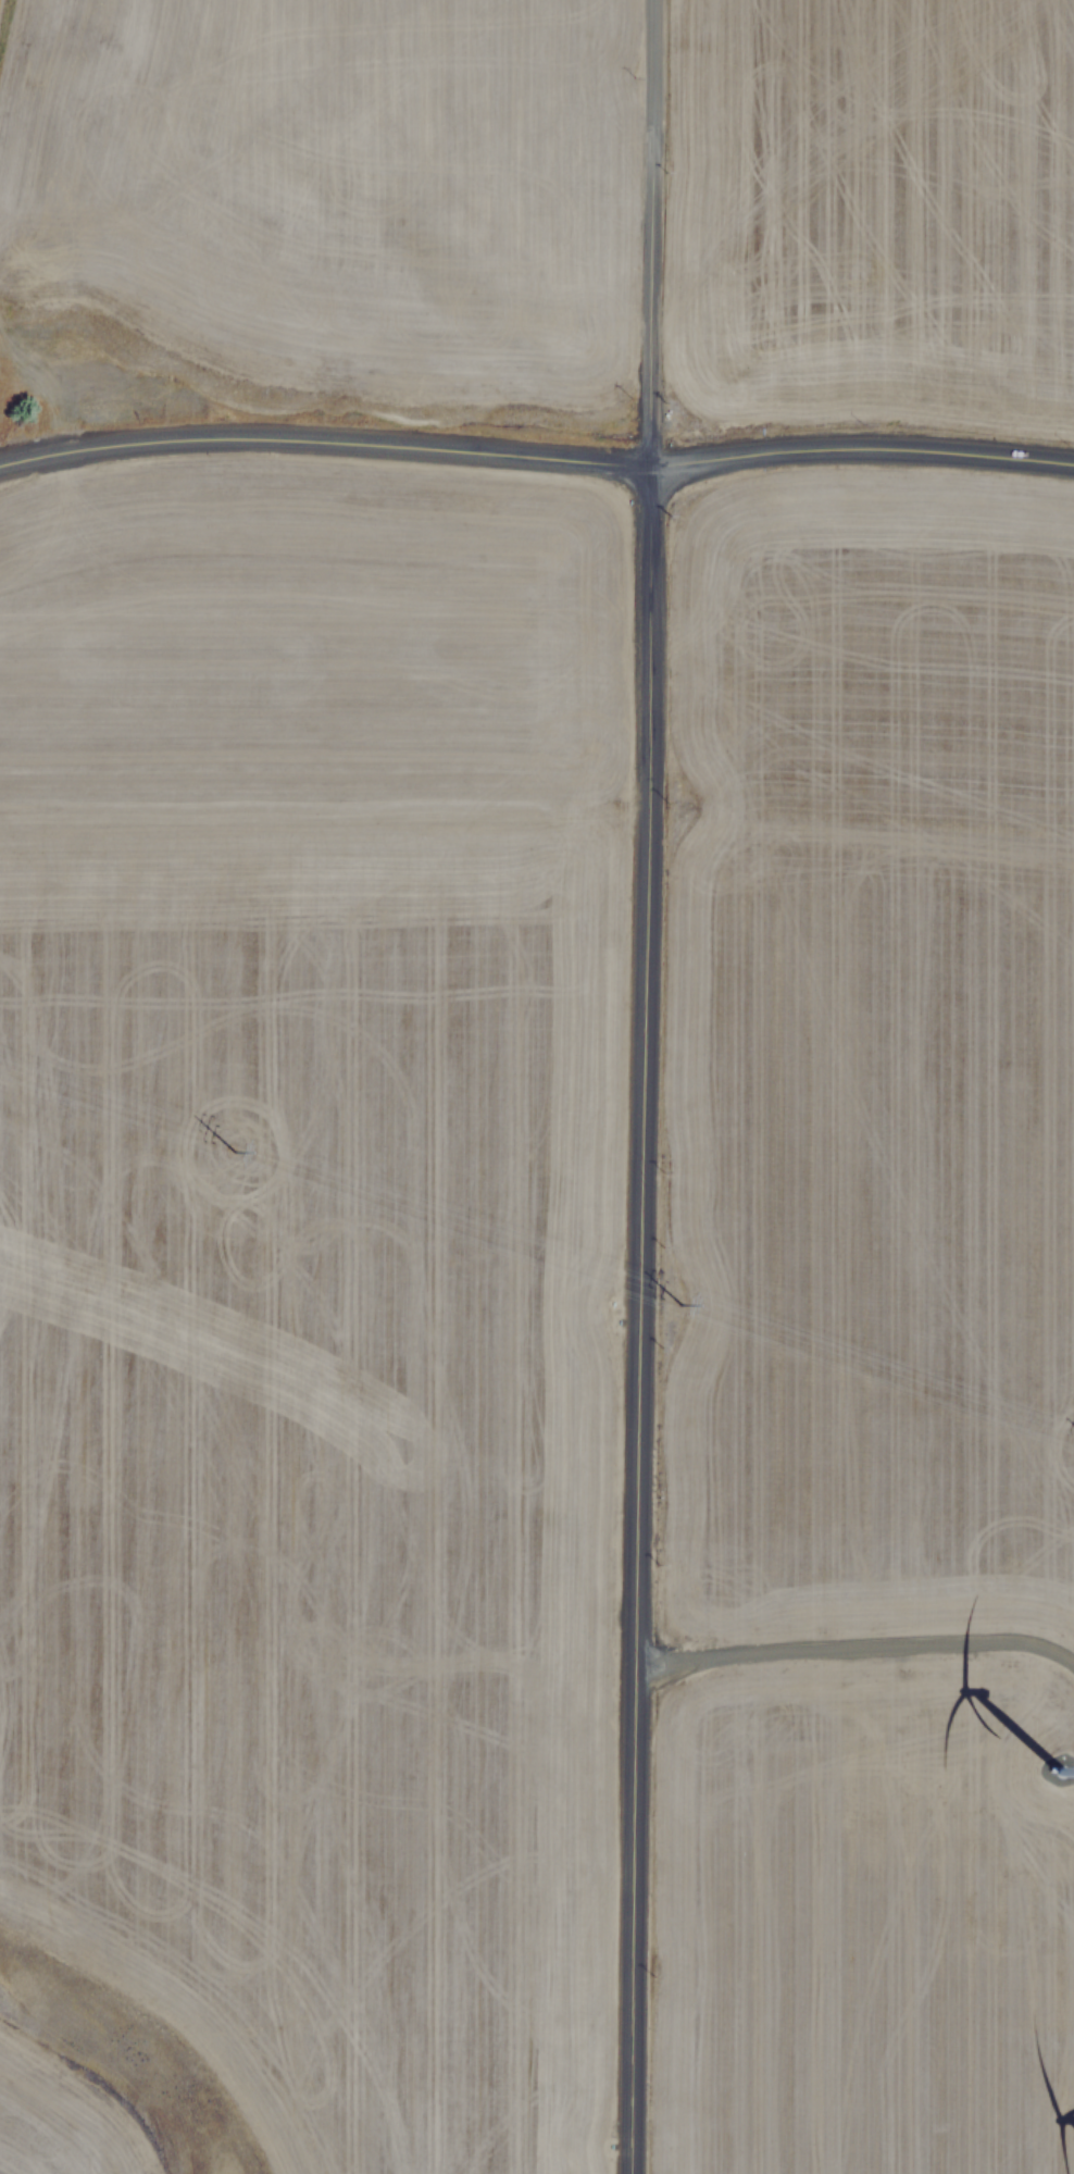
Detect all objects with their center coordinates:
road: (647, 227)
road: (859, 431)
road: (322, 435)
power tower: (229, 1146)
power tower: (676, 1297)
road: (636, 1314)
road: (854, 1629)

